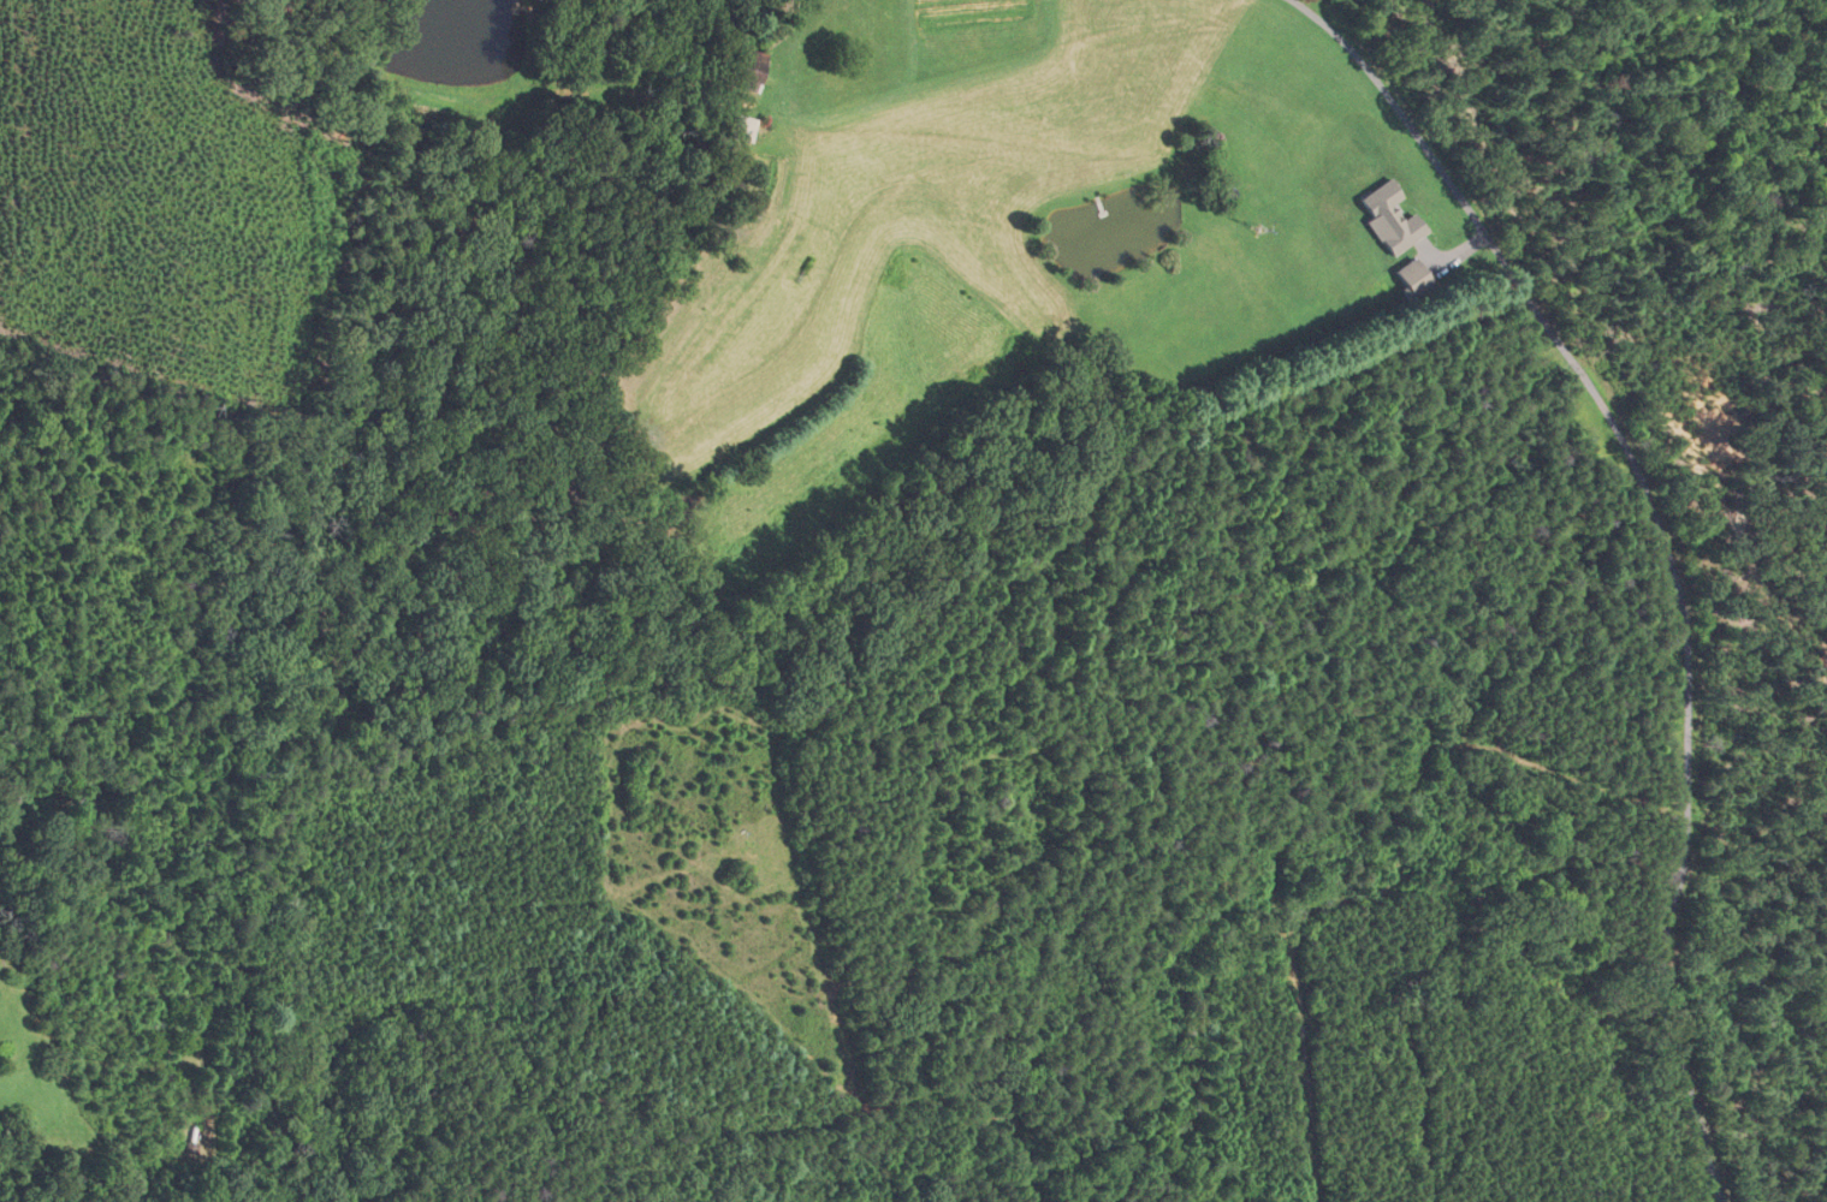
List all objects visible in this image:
building: (740, 83)
building: (736, 130)
building: (1406, 276)
road: (1663, 545)

